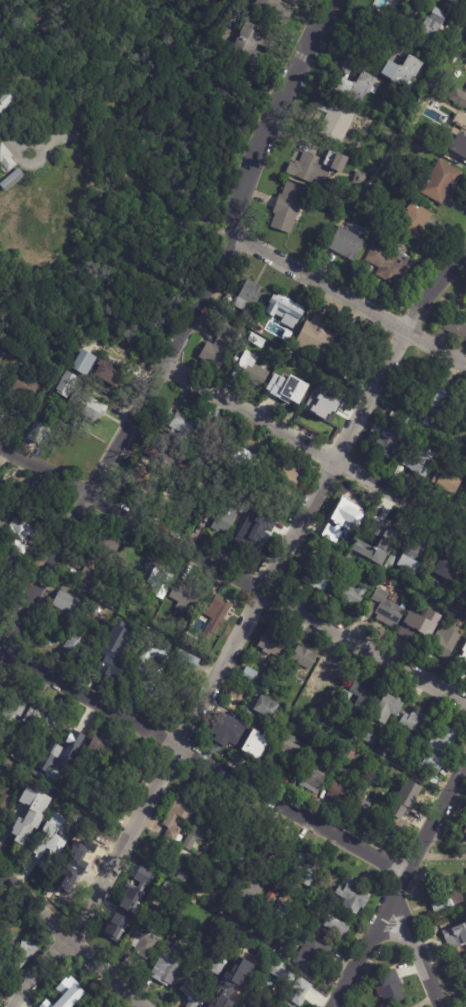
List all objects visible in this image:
building: (465, 0)
building: (455, 1)
building: (292, 2)
building: (274, 10)
building: (431, 30)
building: (465, 41)
building: (254, 48)
building: (403, 72)
building: (356, 88)
building: (459, 97)
building: (9, 101)
road: (277, 116)
building: (336, 118)
building: (459, 123)
building: (388, 137)
building: (458, 146)
building: (6, 161)
building: (387, 164)
building: (318, 167)
building: (13, 182)
building: (442, 182)
building: (288, 207)
building: (415, 220)
building: (348, 243)
building: (390, 264)
building: (246, 297)
road: (352, 299)
building: (284, 309)
building: (263, 326)
building: (457, 327)
building: (318, 337)
building: (258, 341)
building: (222, 345)
building: (85, 363)
building: (352, 366)
building: (250, 370)
building: (110, 374)
building: (1, 376)
building: (69, 385)
building: (424, 387)
building: (24, 391)
building: (285, 391)
building: (447, 404)
building: (342, 405)
building: (81, 408)
building: (323, 410)
building: (428, 422)
building: (184, 424)
building: (41, 434)
road: (120, 444)
building: (389, 444)
road: (317, 447)
building: (244, 459)
building: (420, 461)
road: (43, 471)
building: (398, 472)
building: (449, 479)
building: (142, 480)
building: (289, 481)
building: (10, 489)
building: (39, 501)
building: (254, 511)
building: (221, 516)
building: (341, 519)
building: (374, 527)
building: (20, 536)
building: (340, 536)
building: (253, 540)
building: (106, 546)
building: (419, 551)
building: (382, 552)
building: (350, 564)
building: (391, 565)
building: (411, 566)
building: (450, 570)
building: (314, 575)
building: (87, 576)
building: (162, 579)
building: (387, 581)
building: (423, 587)
building: (352, 596)
road: (275, 599)
building: (3, 600)
building: (64, 603)
building: (459, 606)
building: (370, 607)
building: (388, 610)
building: (213, 620)
building: (421, 625)
building: (127, 627)
road: (245, 630)
building: (446, 639)
building: (273, 643)
building: (76, 645)
building: (462, 655)
building: (305, 659)
building: (187, 665)
building: (464, 665)
building: (114, 667)
building: (151, 669)
building: (465, 670)
building: (333, 673)
building: (249, 676)
building: (275, 691)
building: (362, 694)
building: (17, 706)
building: (266, 708)
building: (387, 709)
building: (317, 717)
building: (328, 721)
building: (41, 722)
building: (415, 722)
building: (232, 731)
building: (361, 731)
building: (69, 740)
building: (254, 744)
building: (390, 745)
building: (61, 751)
building: (439, 751)
building: (100, 752)
building: (284, 756)
building: (7, 765)
building: (395, 778)
building: (313, 781)
road: (261, 791)
building: (342, 793)
building: (405, 801)
building: (4, 804)
building: (366, 811)
building: (30, 817)
building: (176, 820)
building: (465, 830)
building: (205, 833)
building: (243, 836)
building: (42, 851)
road: (441, 855)
building: (79, 862)
building: (307, 869)
building: (183, 879)
building: (255, 886)
road: (398, 887)
building: (169, 888)
building: (274, 894)
building: (353, 897)
building: (445, 898)
building: (282, 914)
building: (122, 915)
building: (196, 916)
building: (265, 918)
building: (337, 927)
building: (455, 936)
road: (68, 942)
building: (144, 944)
building: (23, 953)
building: (313, 955)
building: (277, 966)
building: (462, 966)
building: (219, 967)
building: (168, 968)
building: (373, 976)
building: (265, 981)
building: (240, 989)
building: (391, 989)
building: (193, 990)
building: (66, 991)
building: (297, 993)
building: (212, 1005)
building: (268, 1005)
building: (366, 1006)

